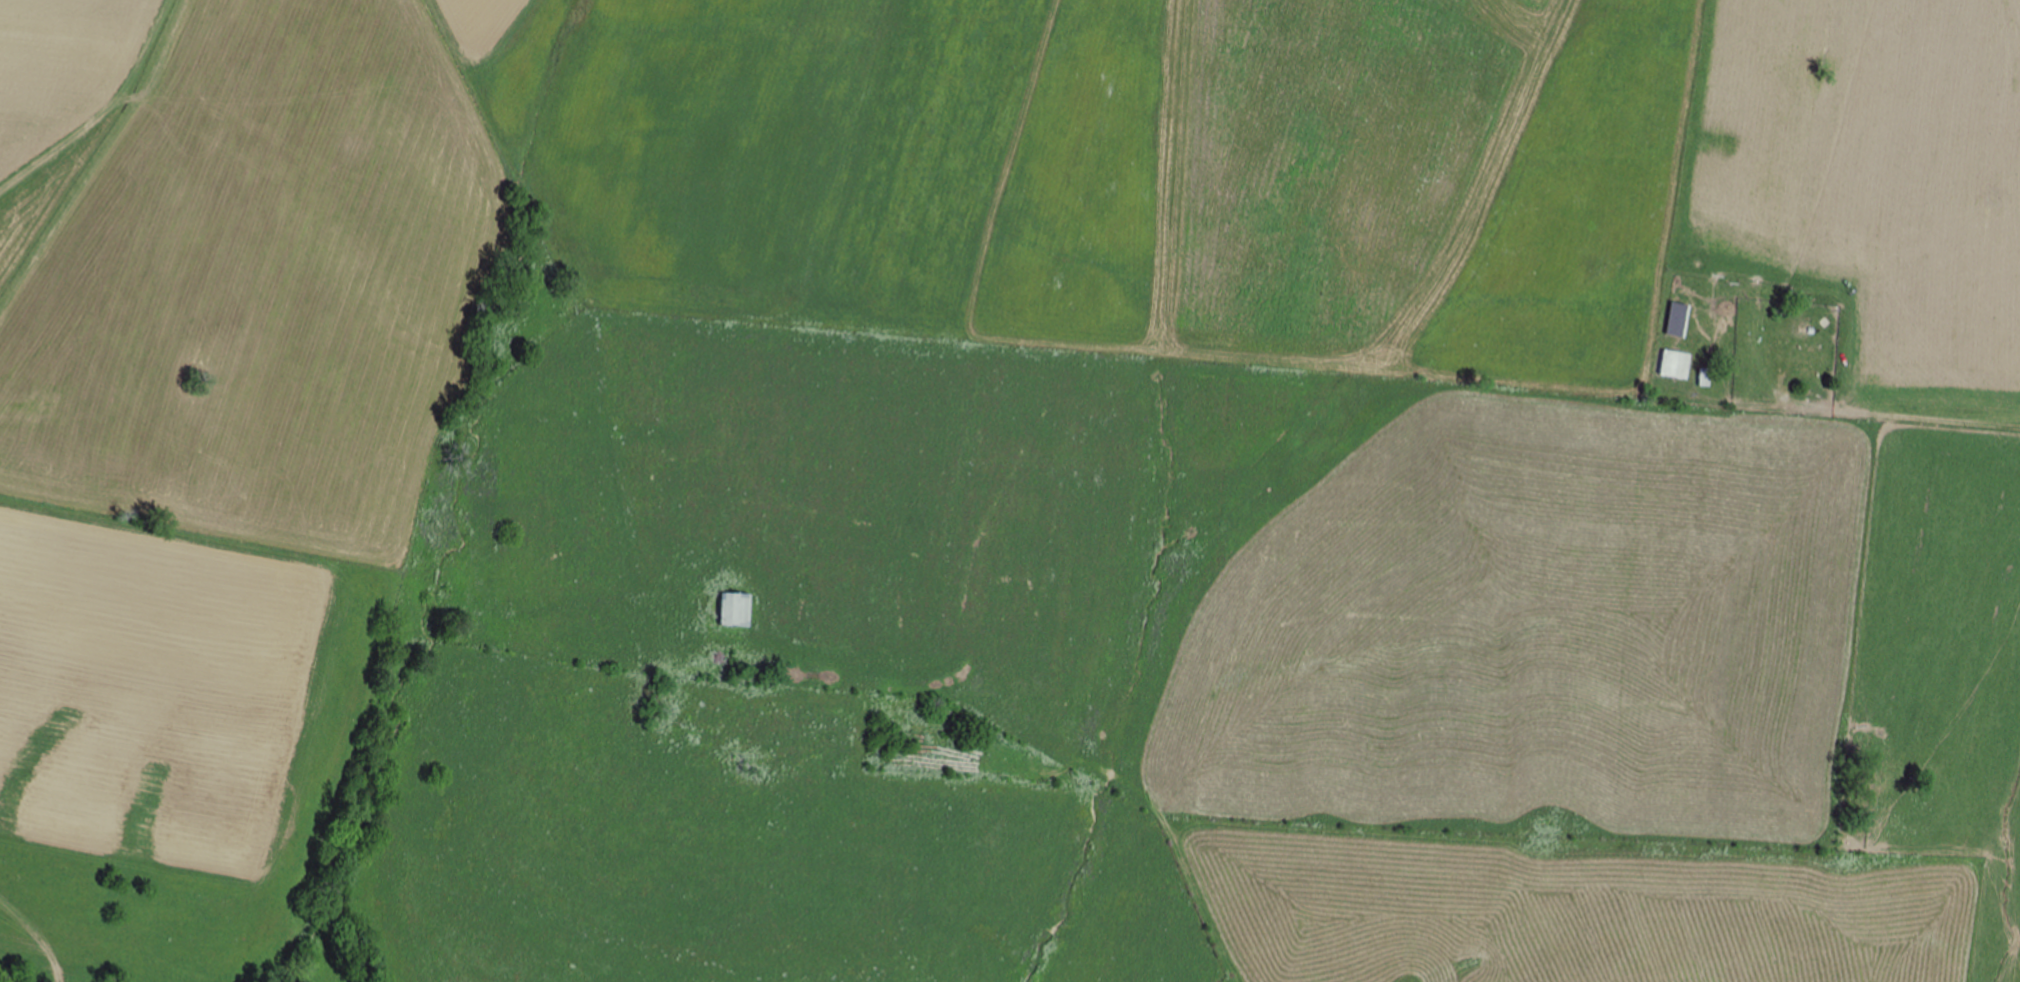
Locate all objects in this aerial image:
road: (561, 286)
building: (1684, 320)
building: (1815, 360)
building: (1681, 365)
road: (1916, 418)
building: (739, 610)

